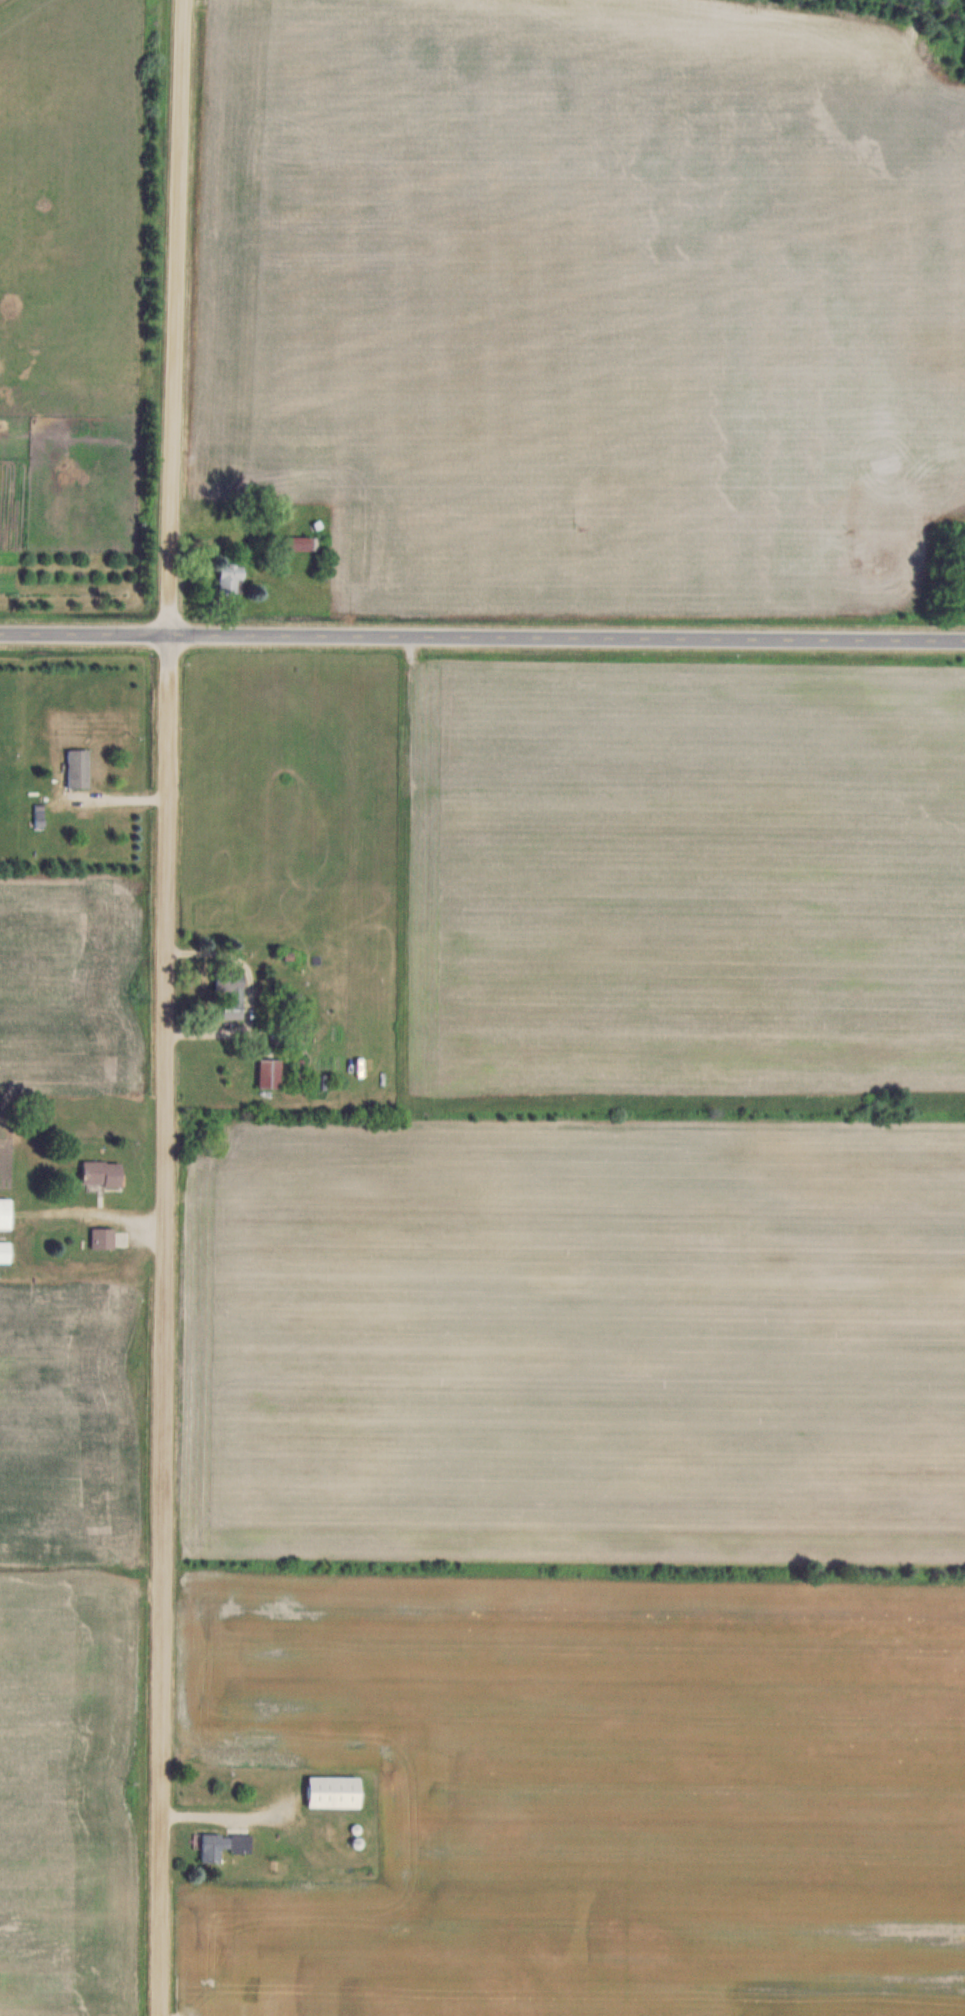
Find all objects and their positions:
building: (301, 543)
building: (232, 578)
road: (482, 645)
building: (79, 769)
building: (40, 813)
building: (232, 994)
road: (170, 1007)
building: (271, 1072)
building: (103, 1173)
building: (6, 1213)
building: (104, 1238)
building: (5, 1252)
building: (335, 1791)
building: (223, 1845)

